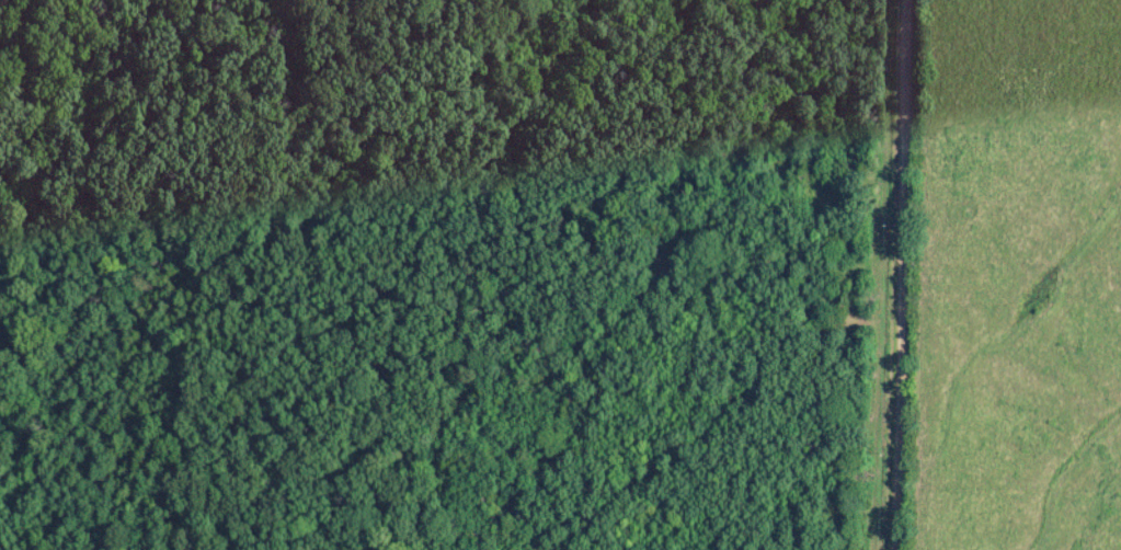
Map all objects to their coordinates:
road: (902, 275)

